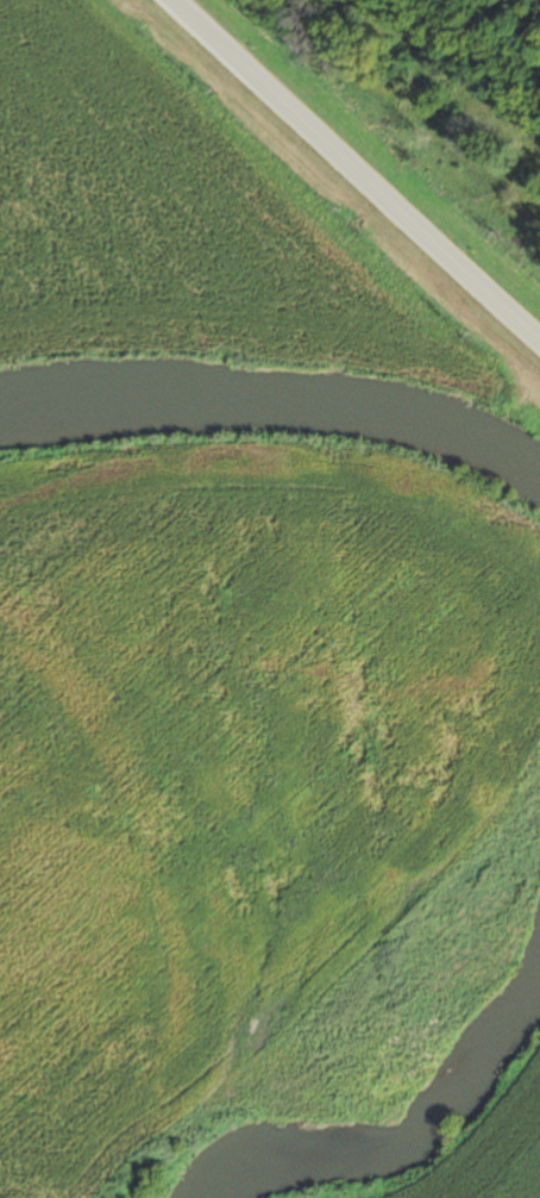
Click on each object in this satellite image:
road: (354, 171)
river: (275, 404)
river: (414, 1102)

